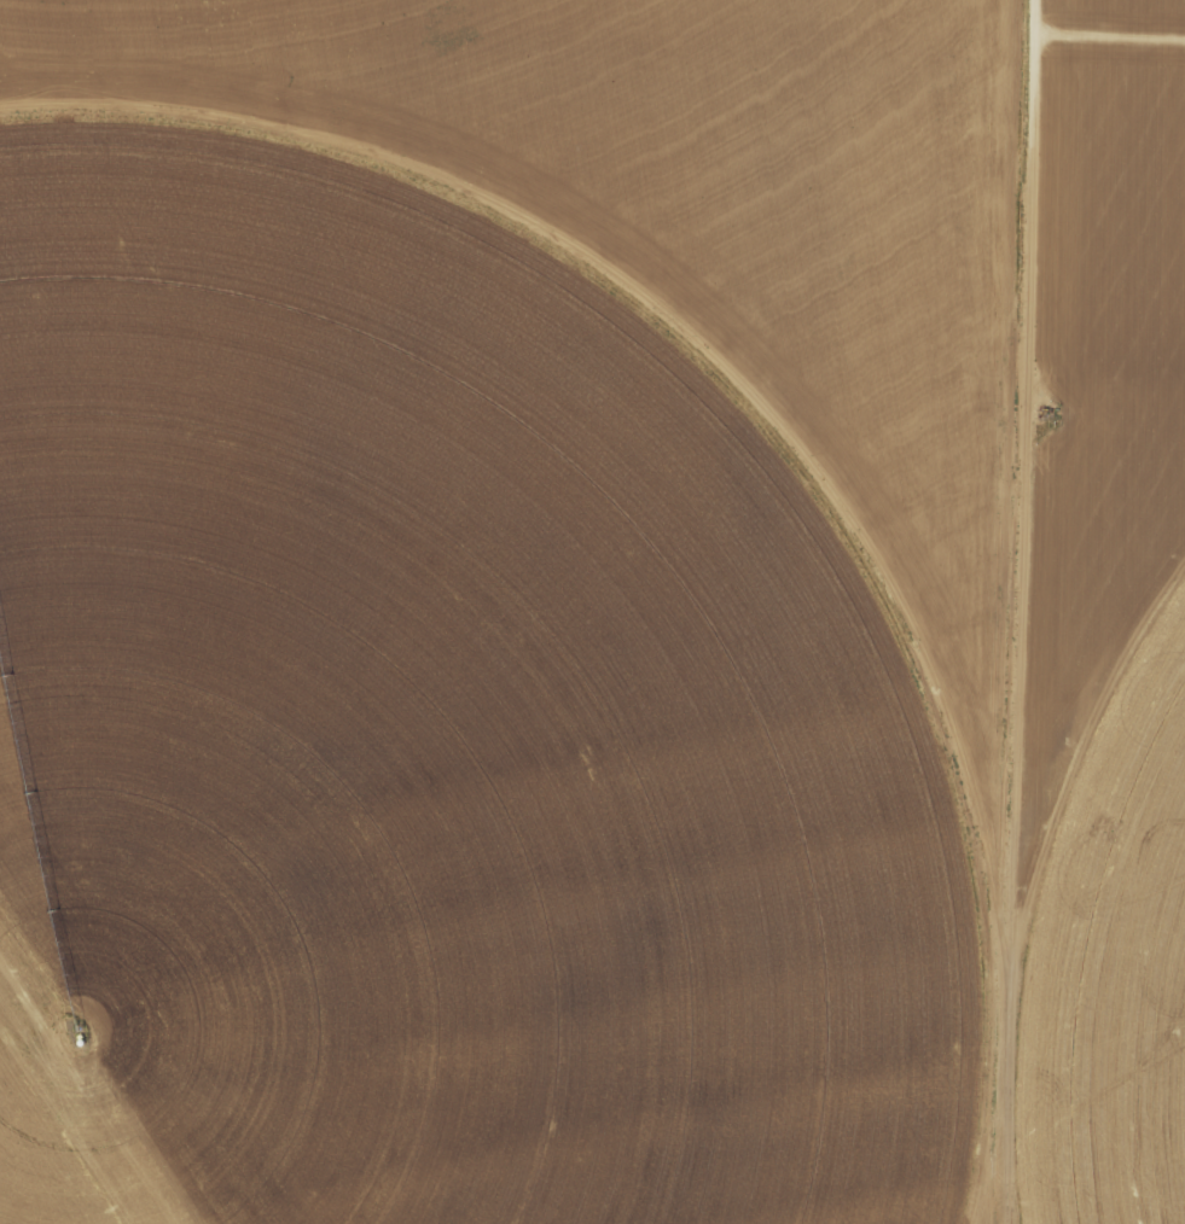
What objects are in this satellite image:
road: (997, 611)

